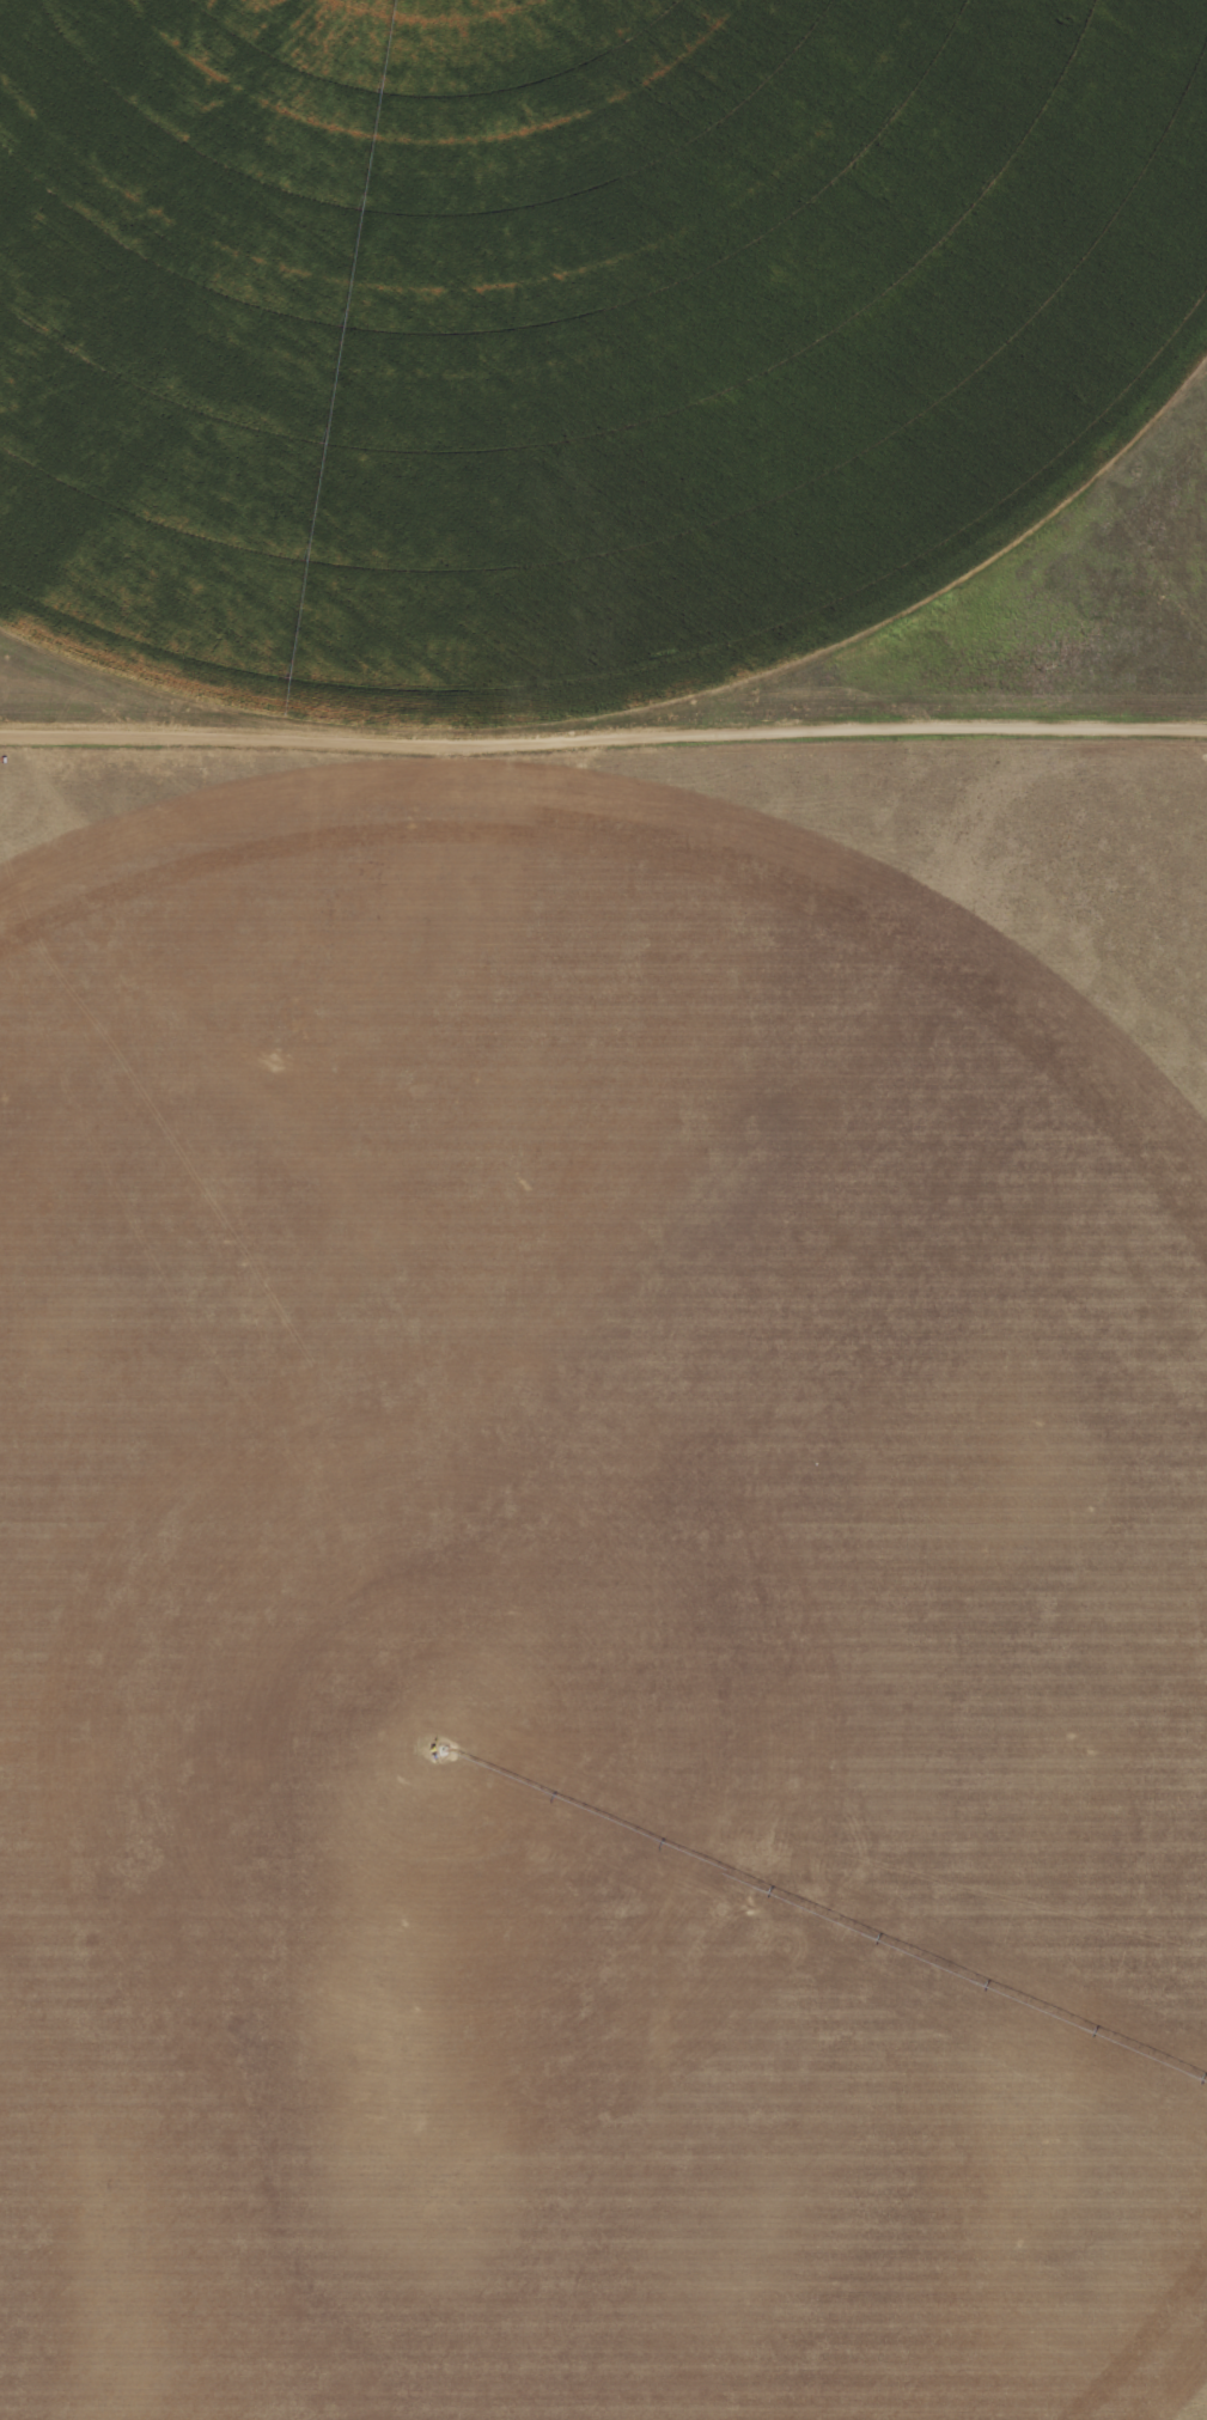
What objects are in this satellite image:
road: (603, 756)

